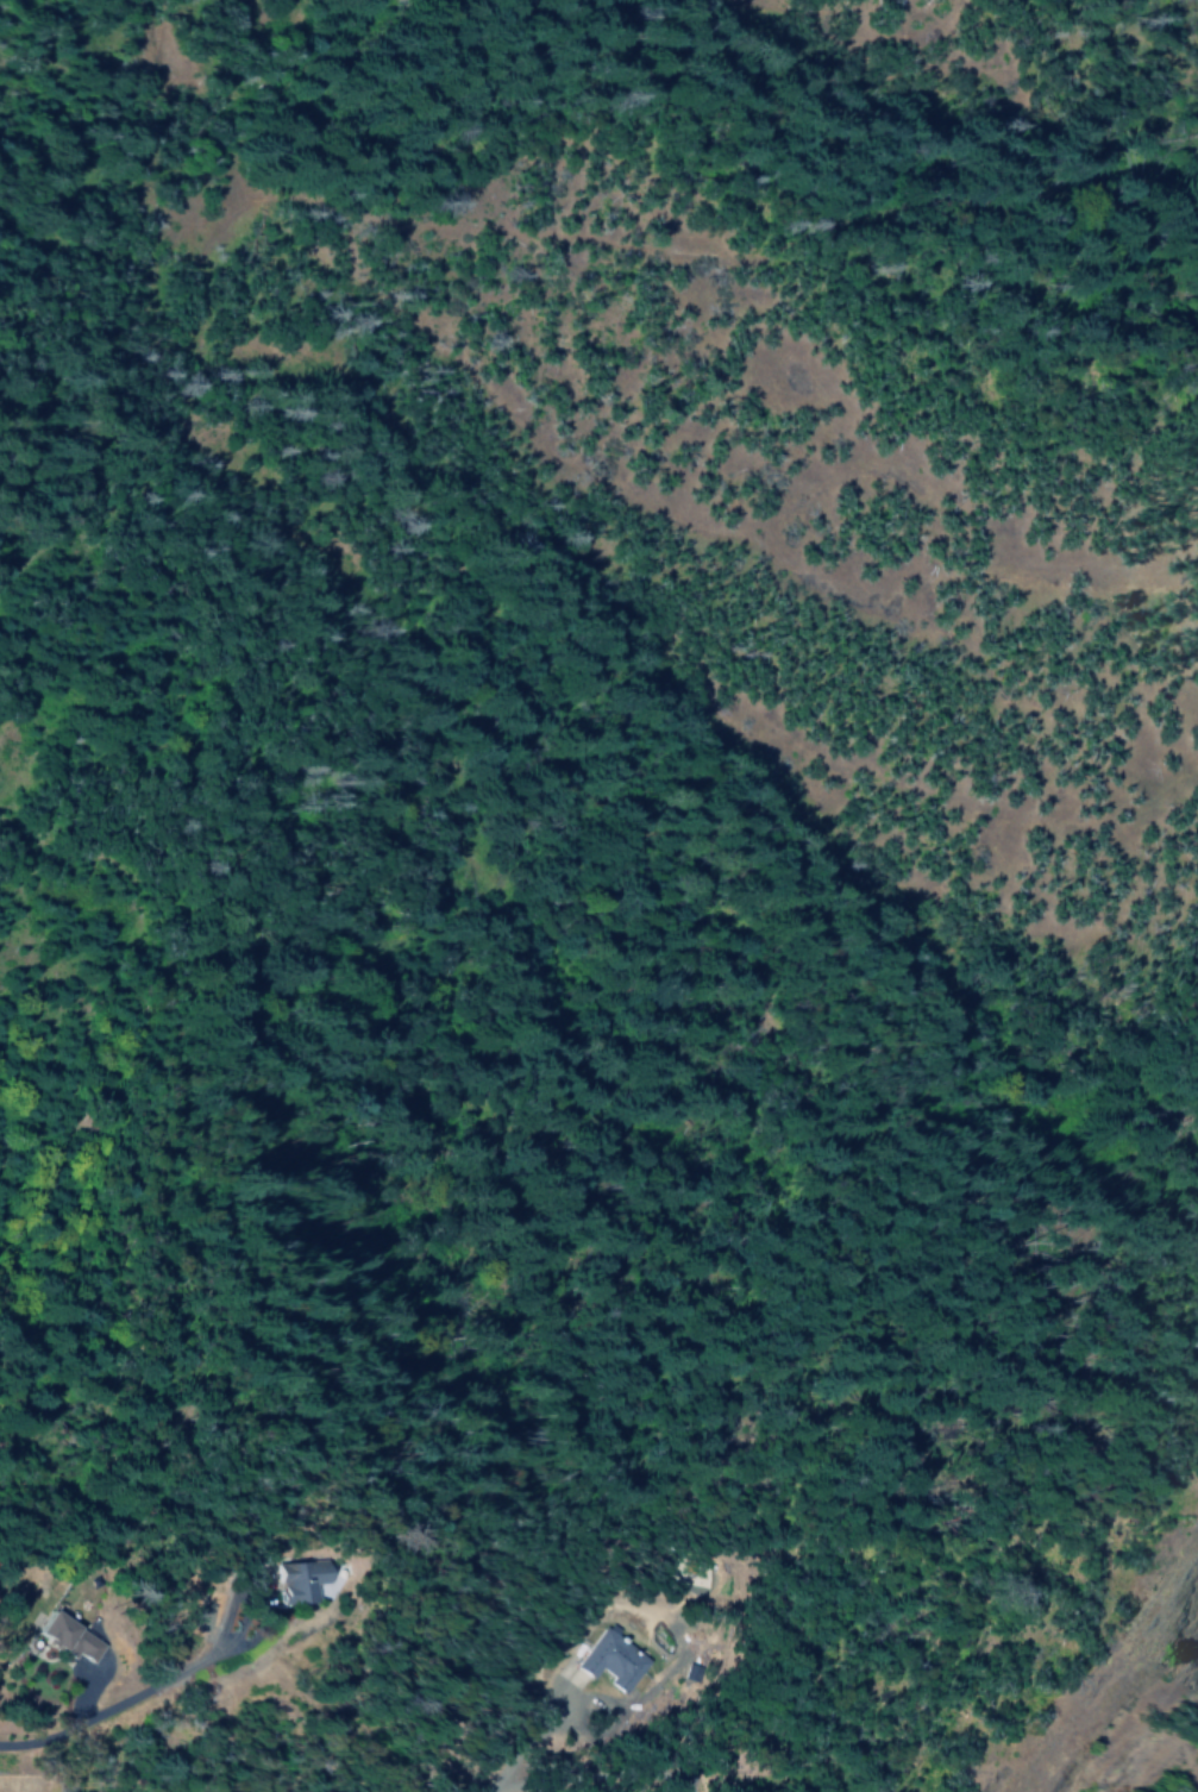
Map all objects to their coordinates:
building: (319, 1577)
building: (74, 1635)
building: (614, 1660)
road: (146, 1690)
road: (611, 1712)
road: (521, 1761)

